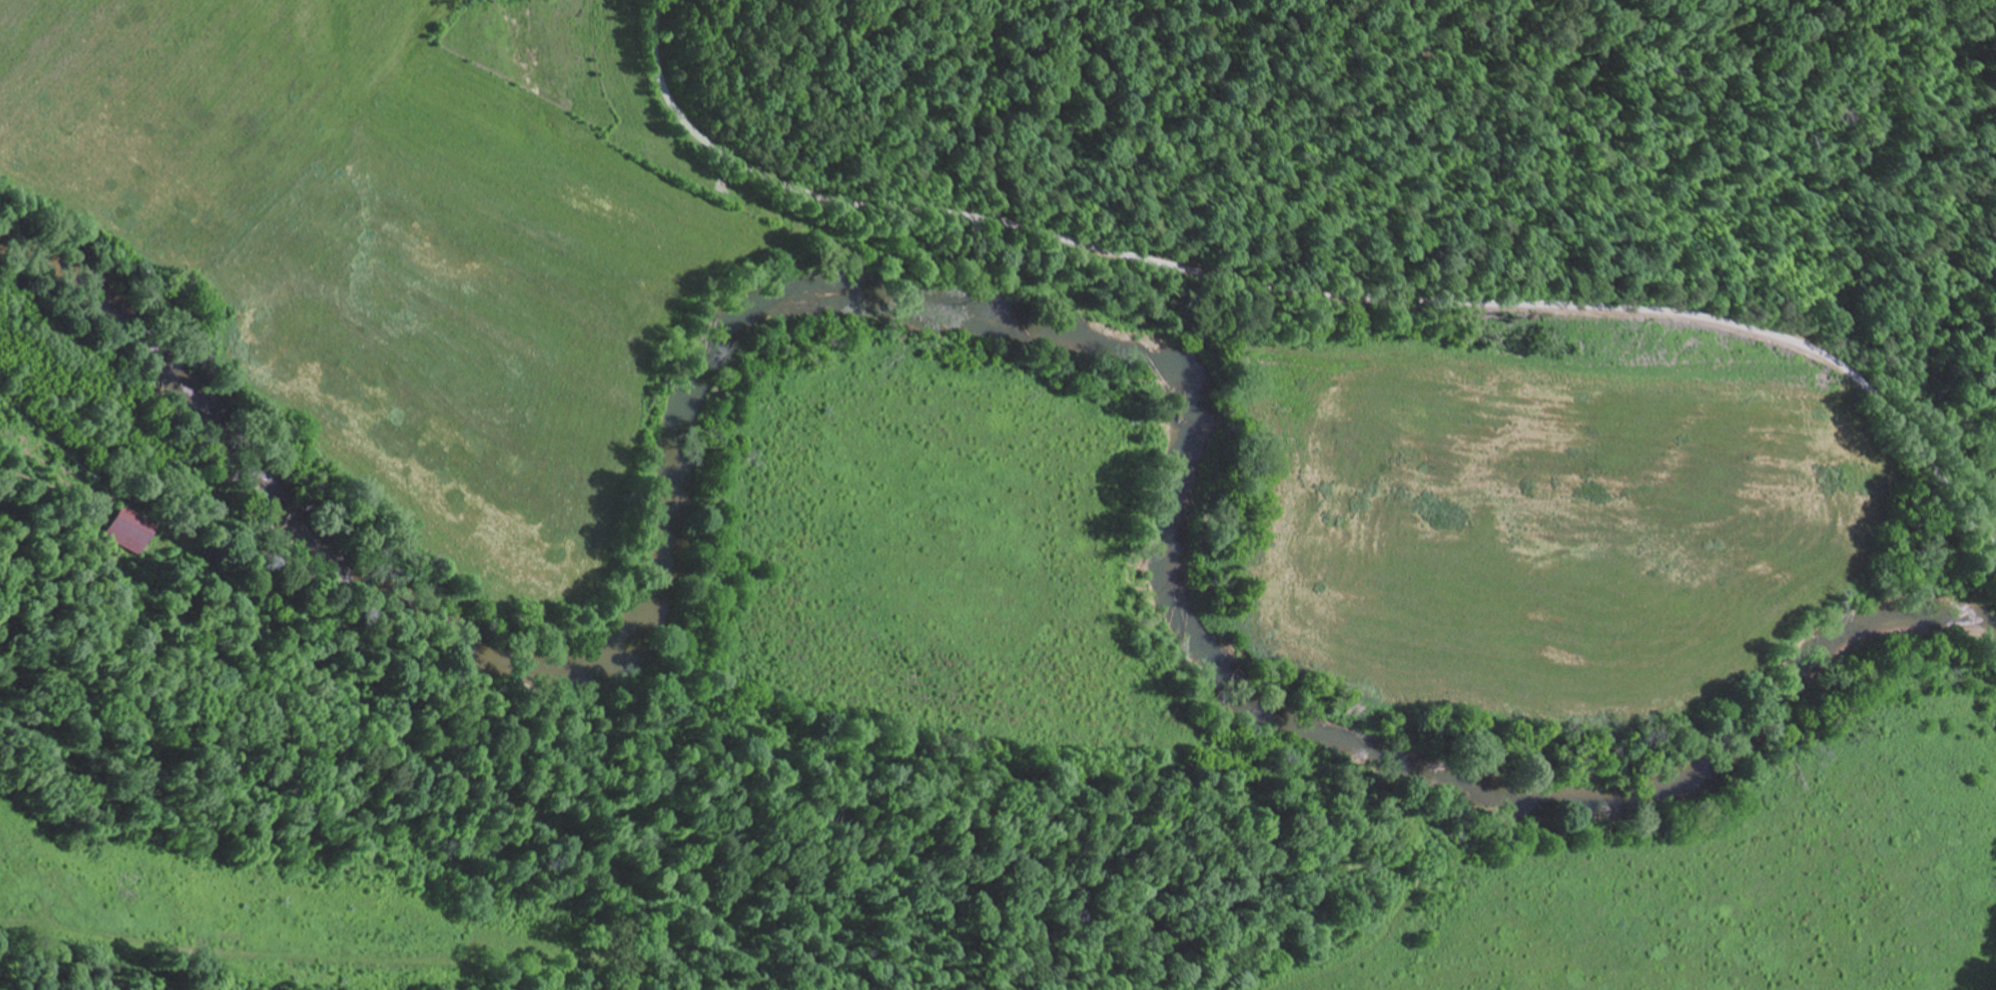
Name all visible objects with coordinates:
road: (1311, 290)
river: (996, 339)
road: (58, 486)
building: (121, 530)

